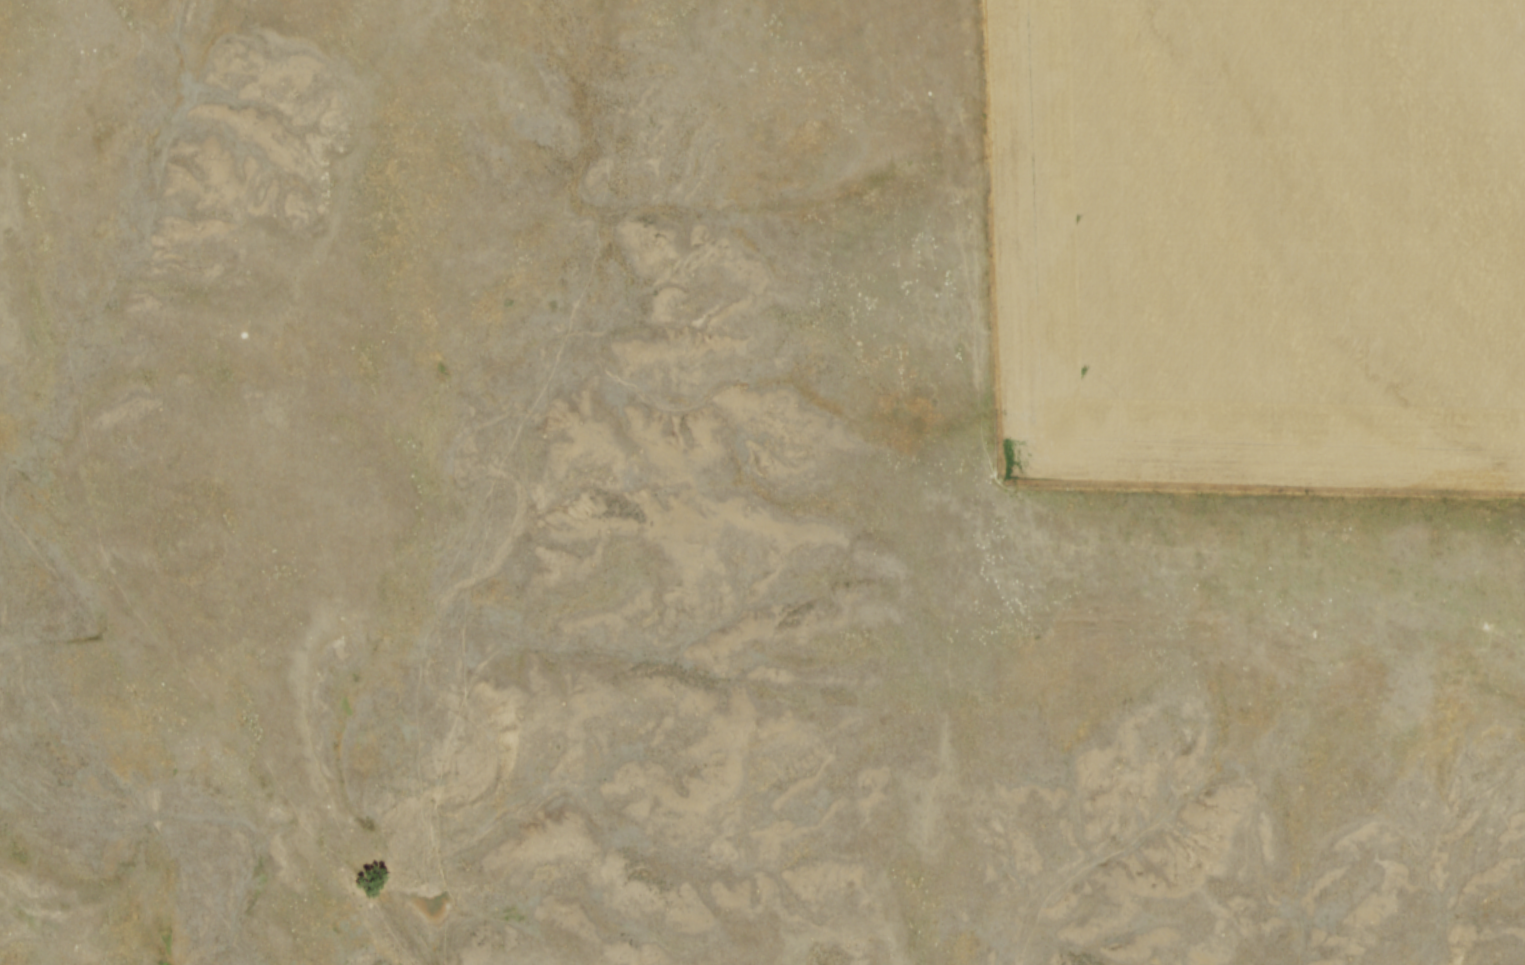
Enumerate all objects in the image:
crop: (1258, 243)

